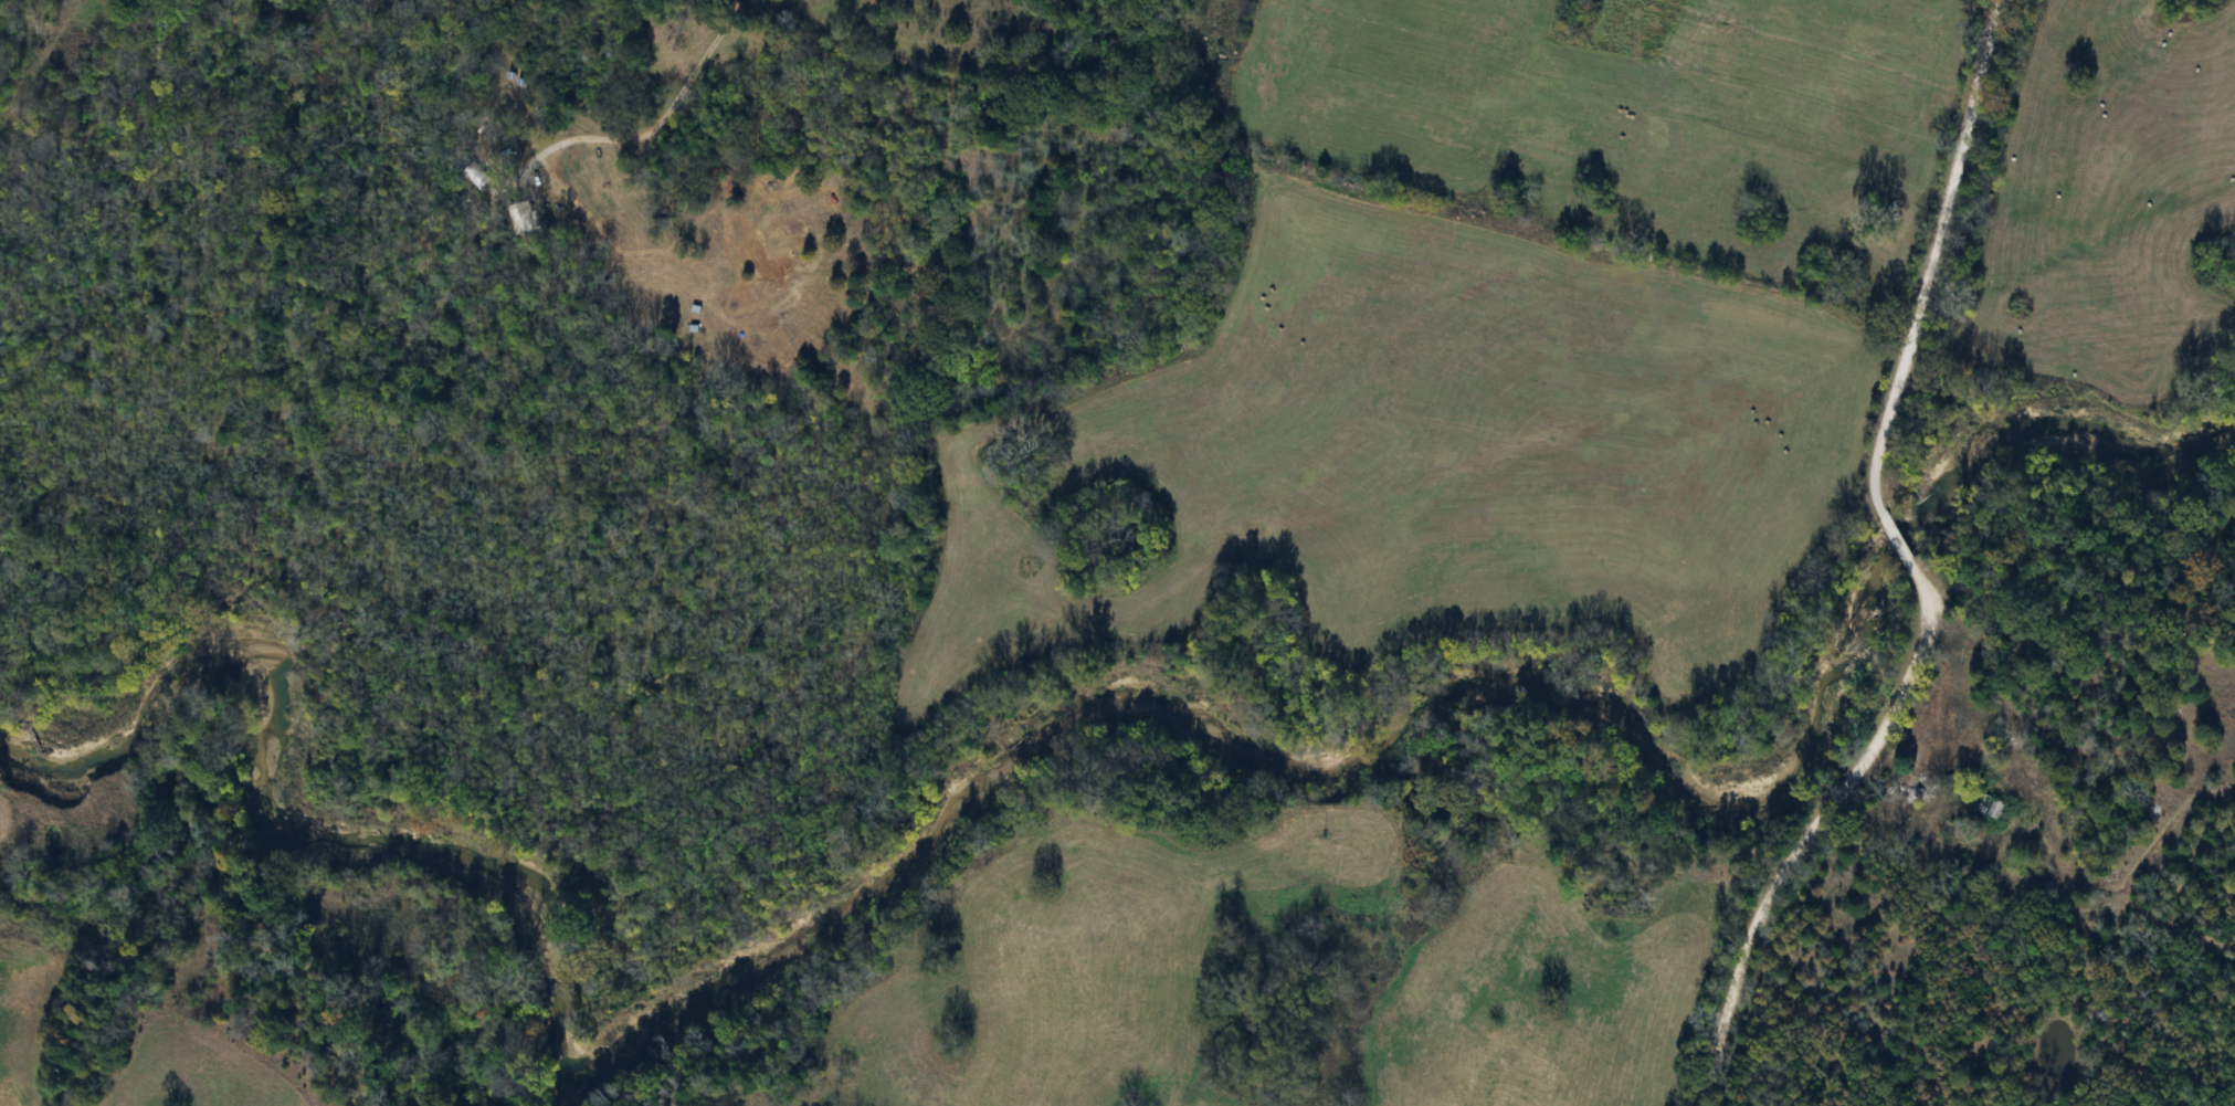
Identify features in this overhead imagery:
road: (1936, 254)
road: (1898, 543)
building: (1916, 784)
building: (1993, 809)
road: (1809, 833)

